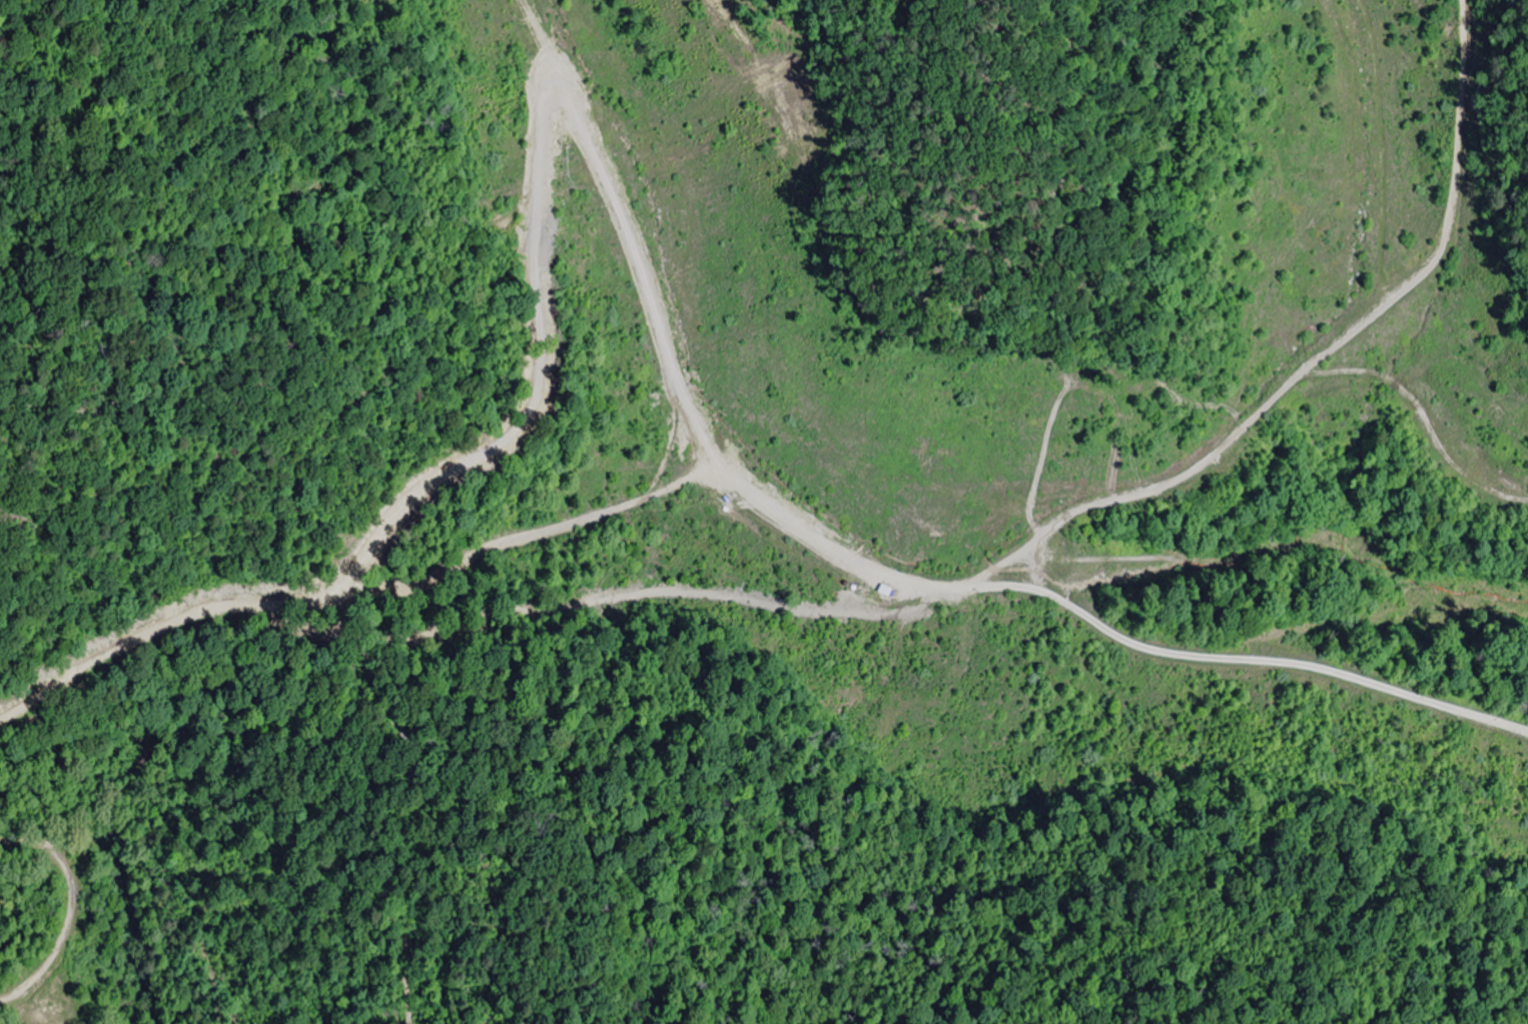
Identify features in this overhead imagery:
road: (1299, 537)

